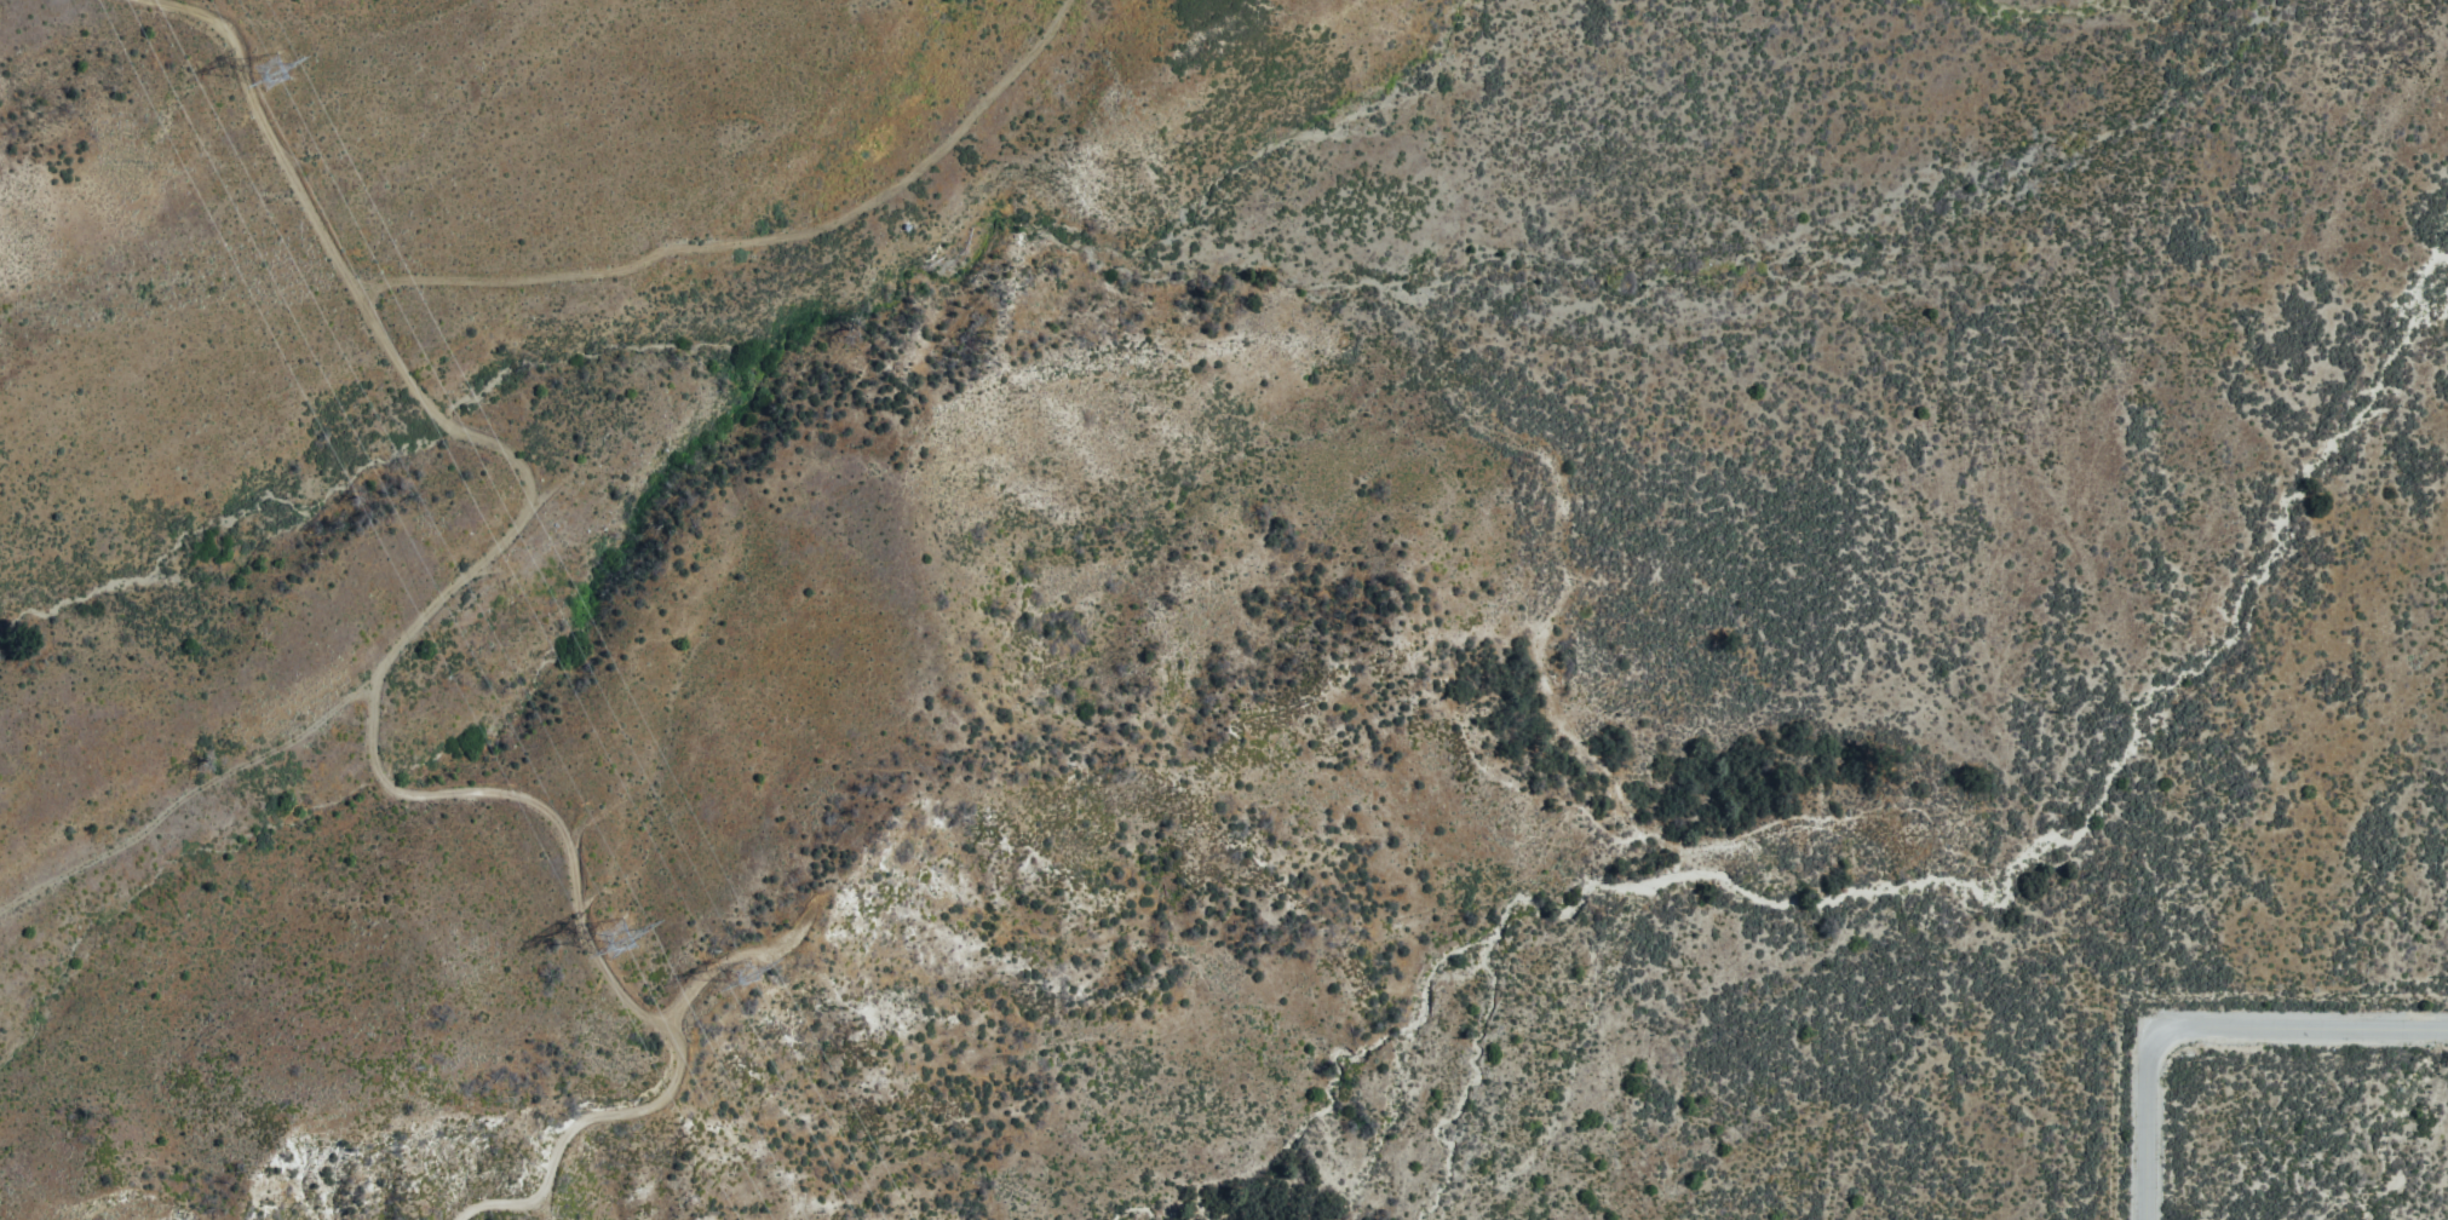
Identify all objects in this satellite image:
power tower: (266, 71)
road: (757, 242)
road: (528, 512)
road: (608, 926)
power tower: (605, 950)
power tower: (766, 961)
road: (2203, 1031)

